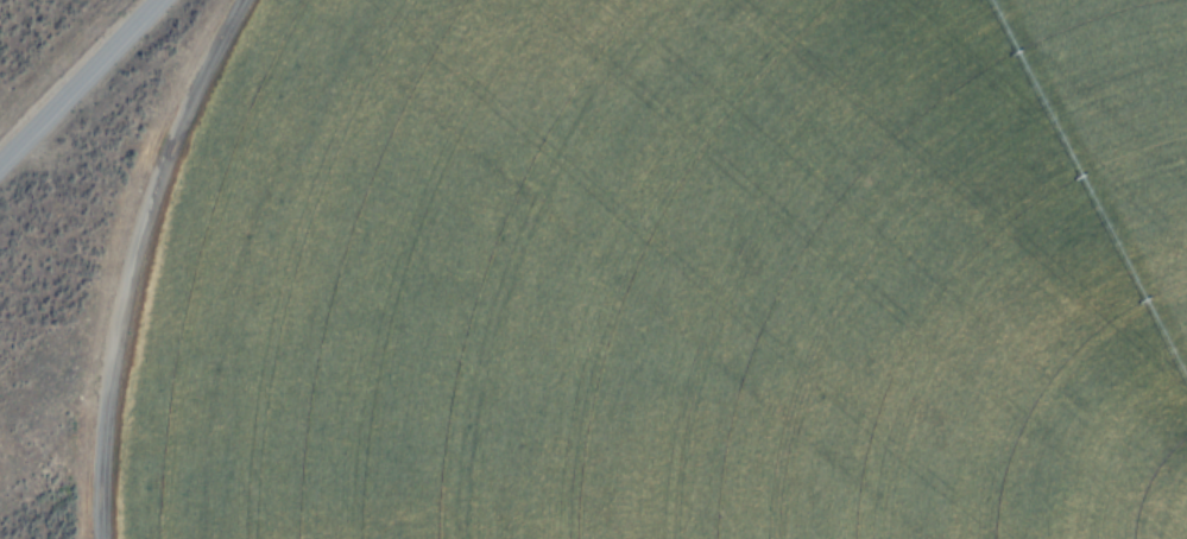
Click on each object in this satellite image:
road: (83, 85)

